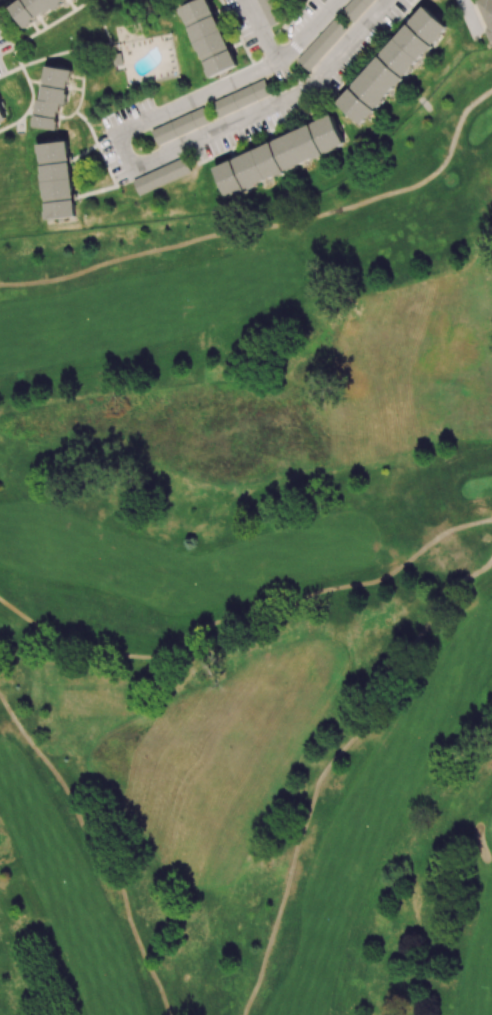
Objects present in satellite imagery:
building: (31, 8)
road: (470, 16)
road: (262, 31)
road: (310, 31)
building: (118, 61)
building: (51, 96)
building: (180, 126)
road: (177, 148)
building: (161, 176)
building: (57, 180)
road: (269, 225)
park: (254, 597)
road: (245, 619)
road: (330, 765)
road: (96, 850)

